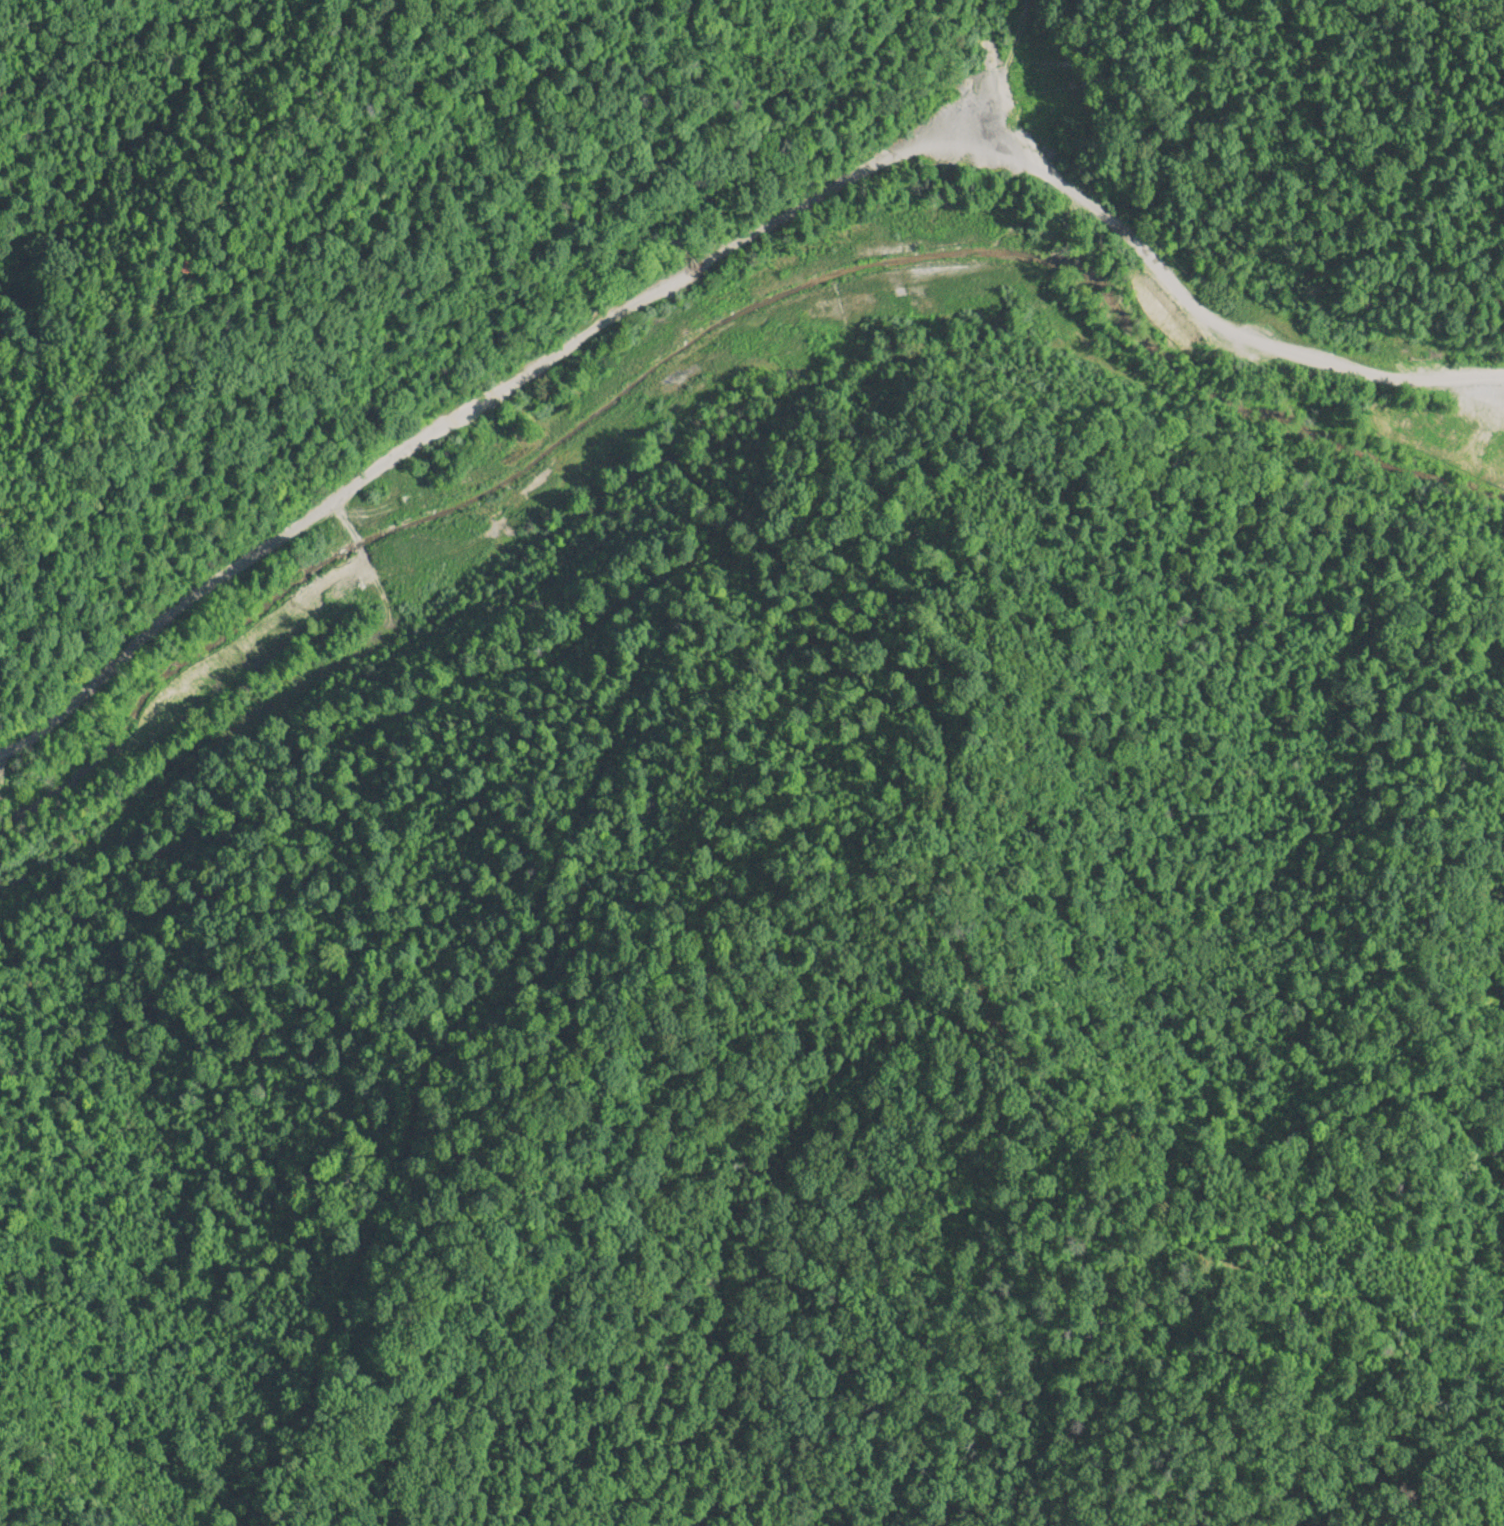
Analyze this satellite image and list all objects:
road: (725, 197)

